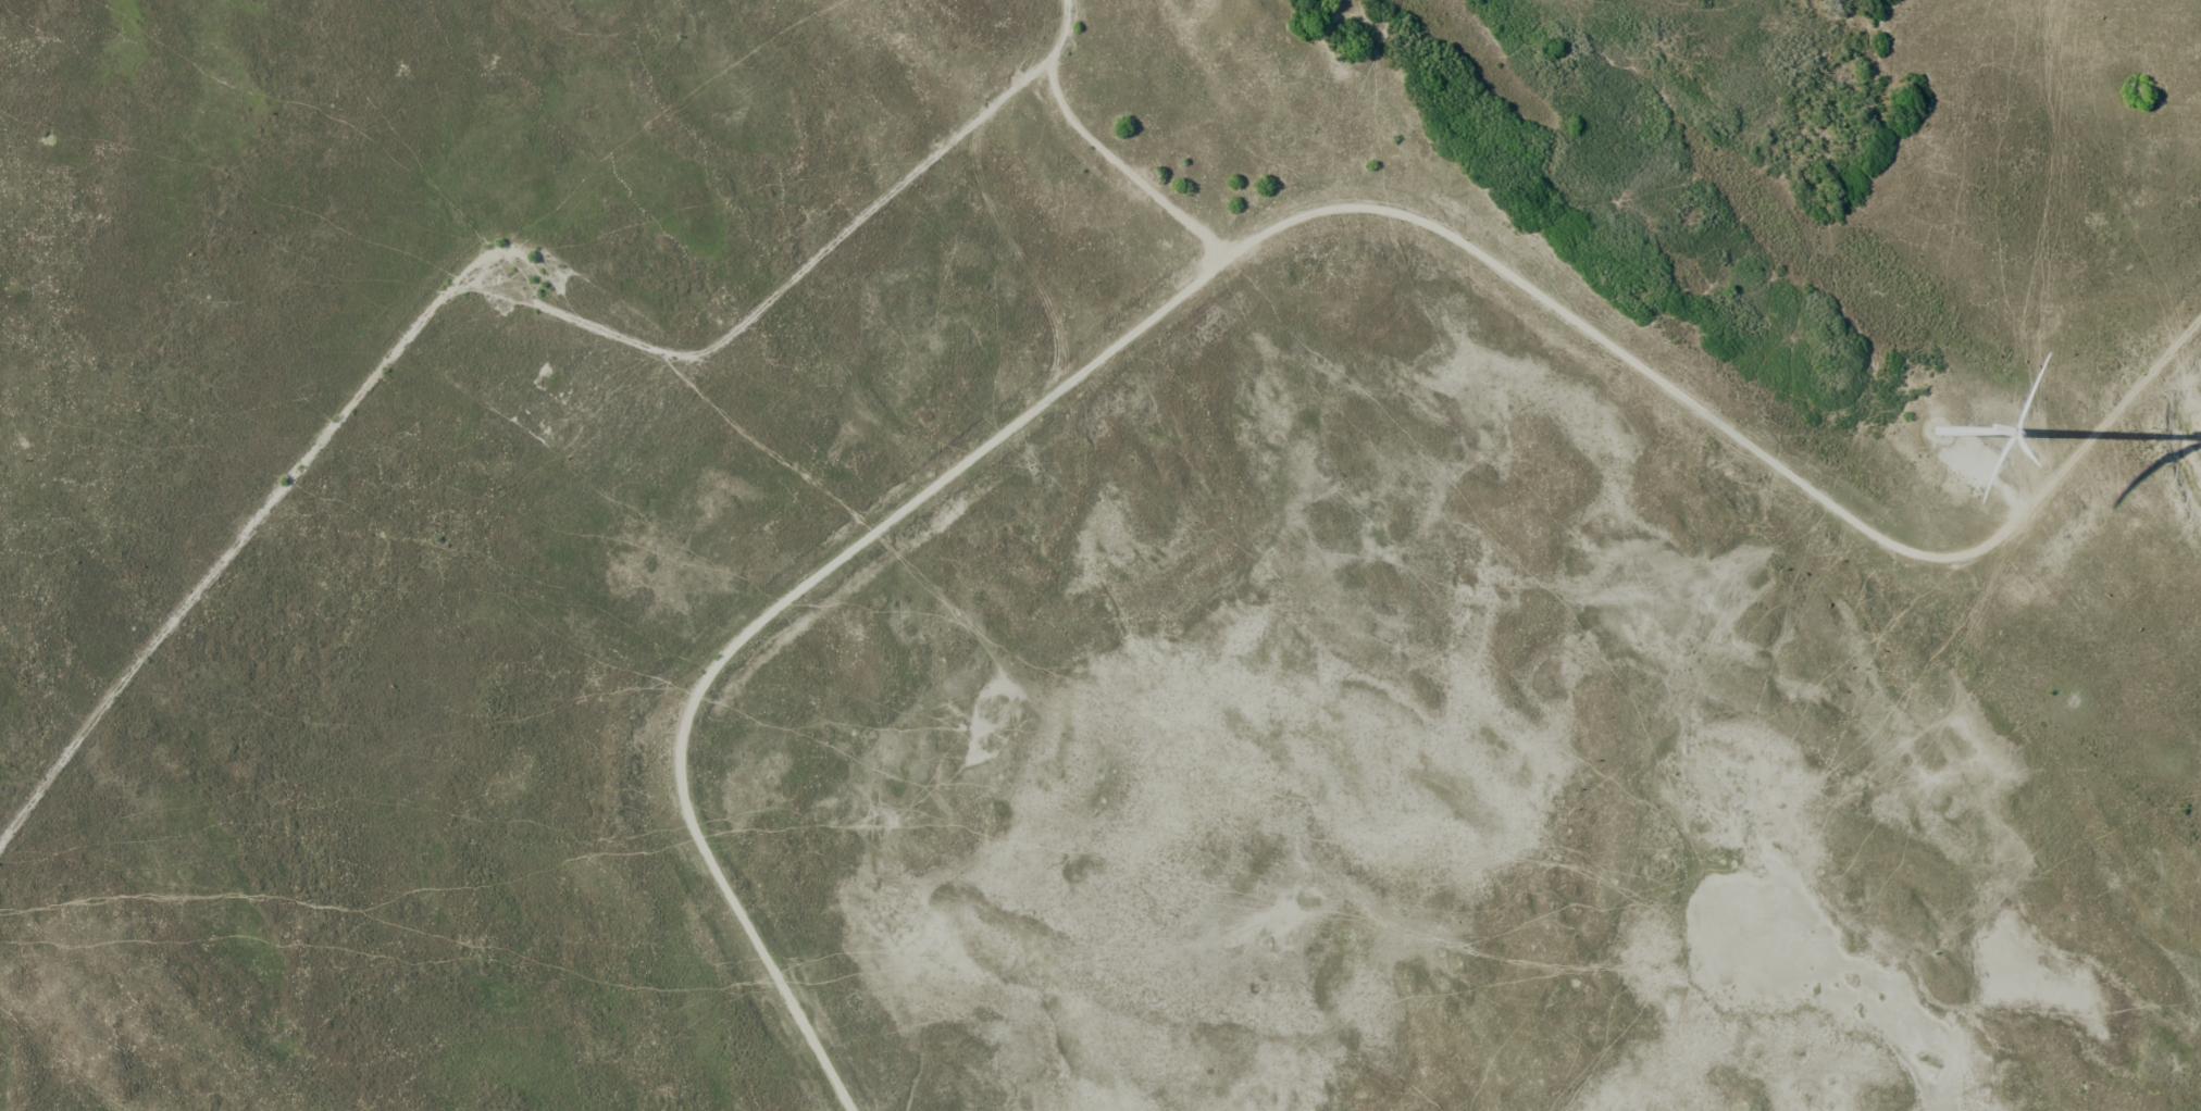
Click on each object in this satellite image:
wind turbine: (1936, 434)

